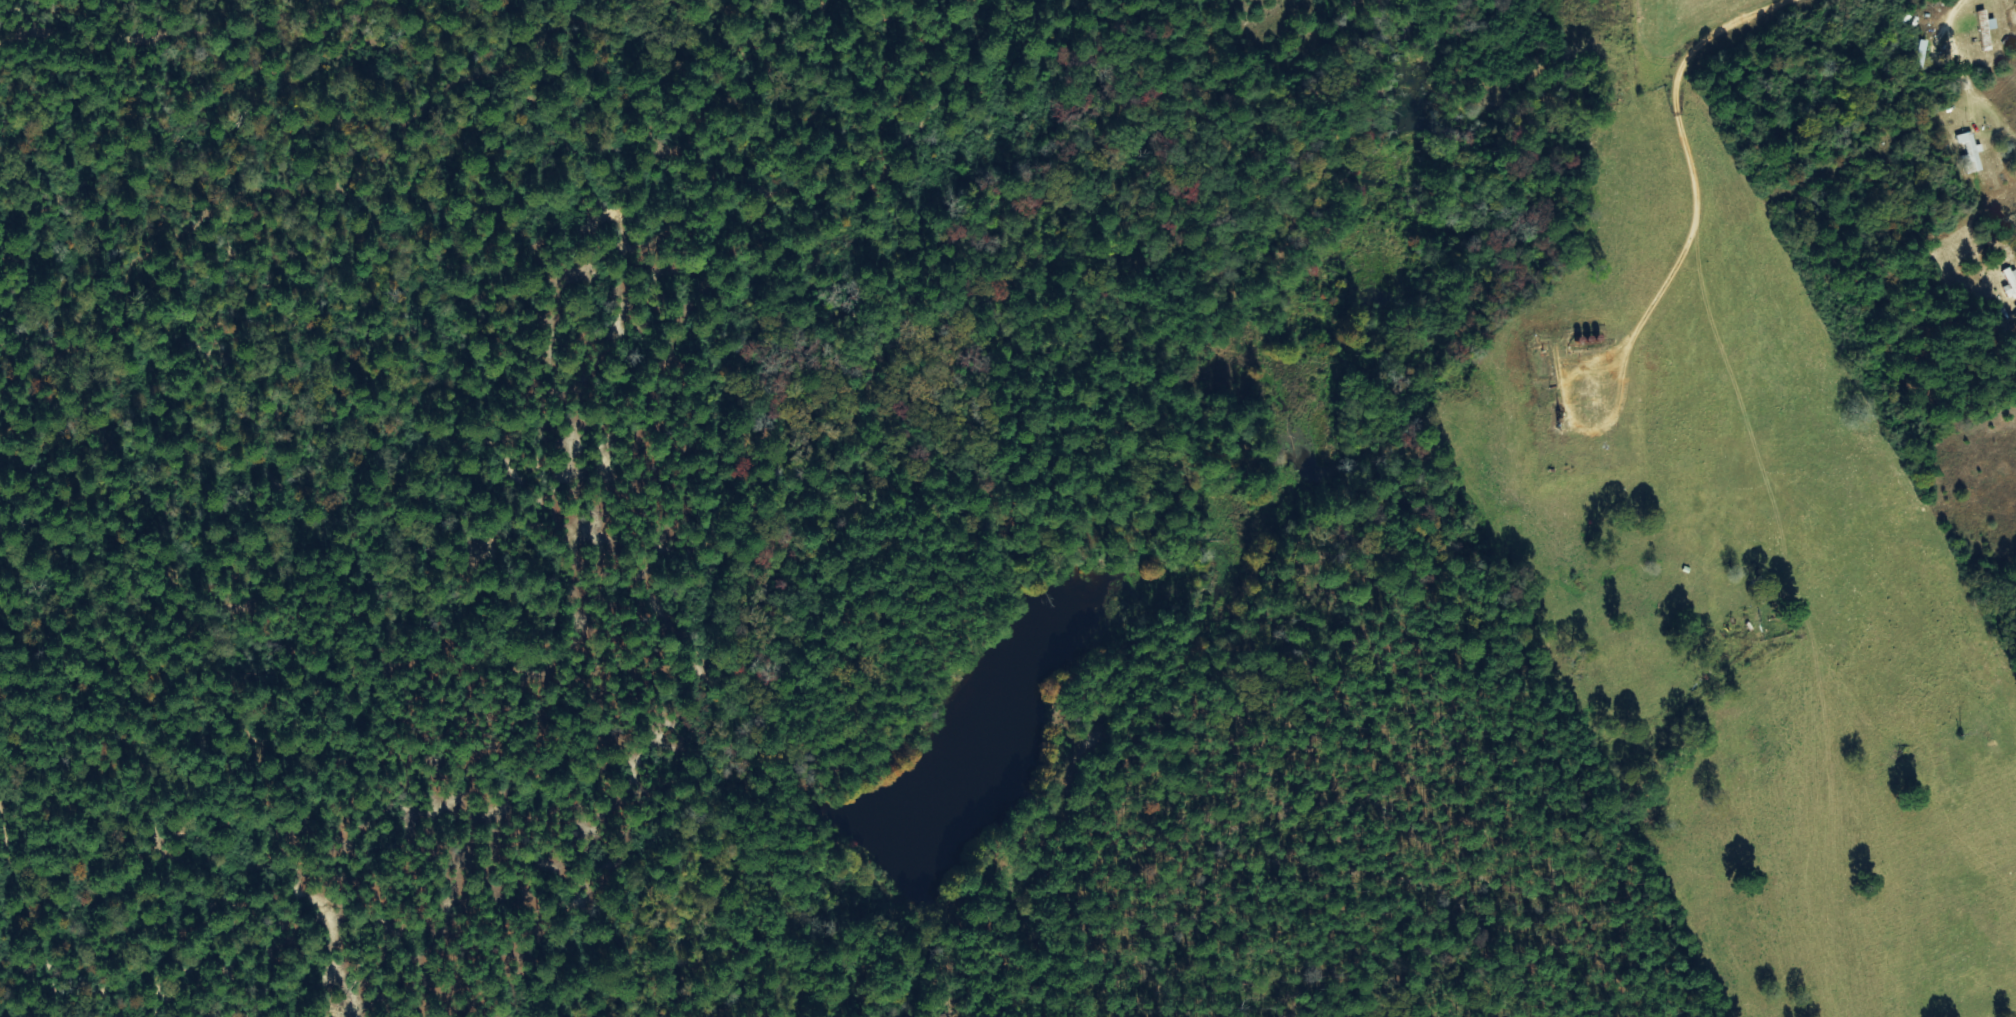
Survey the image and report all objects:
building: (1921, 54)
building: (1965, 153)
building: (2009, 290)

